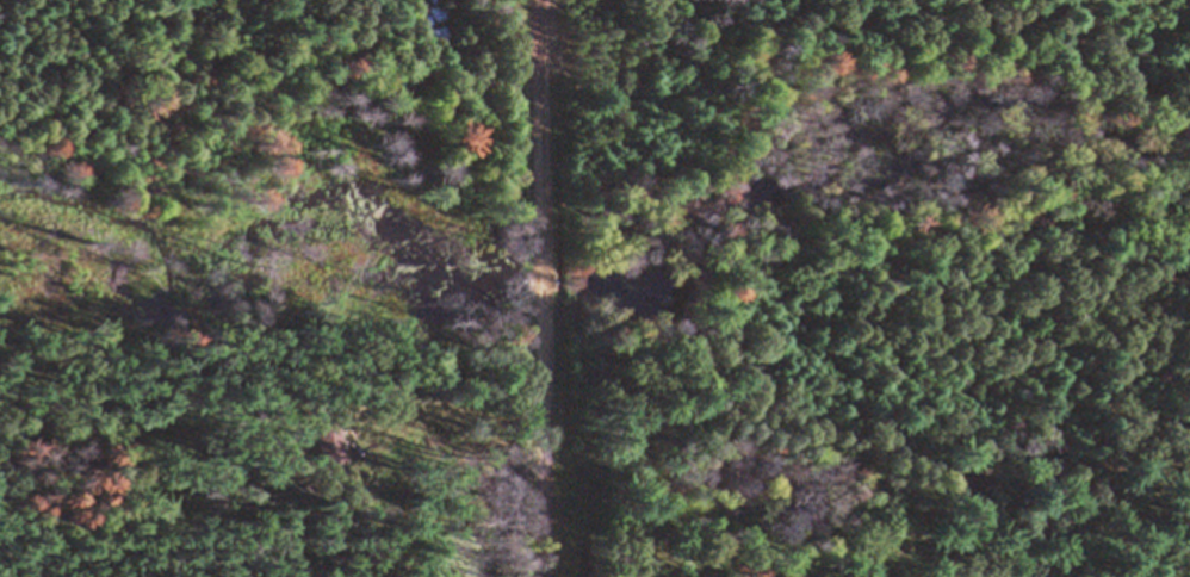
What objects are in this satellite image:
building: (435, 2)
road: (544, 288)

